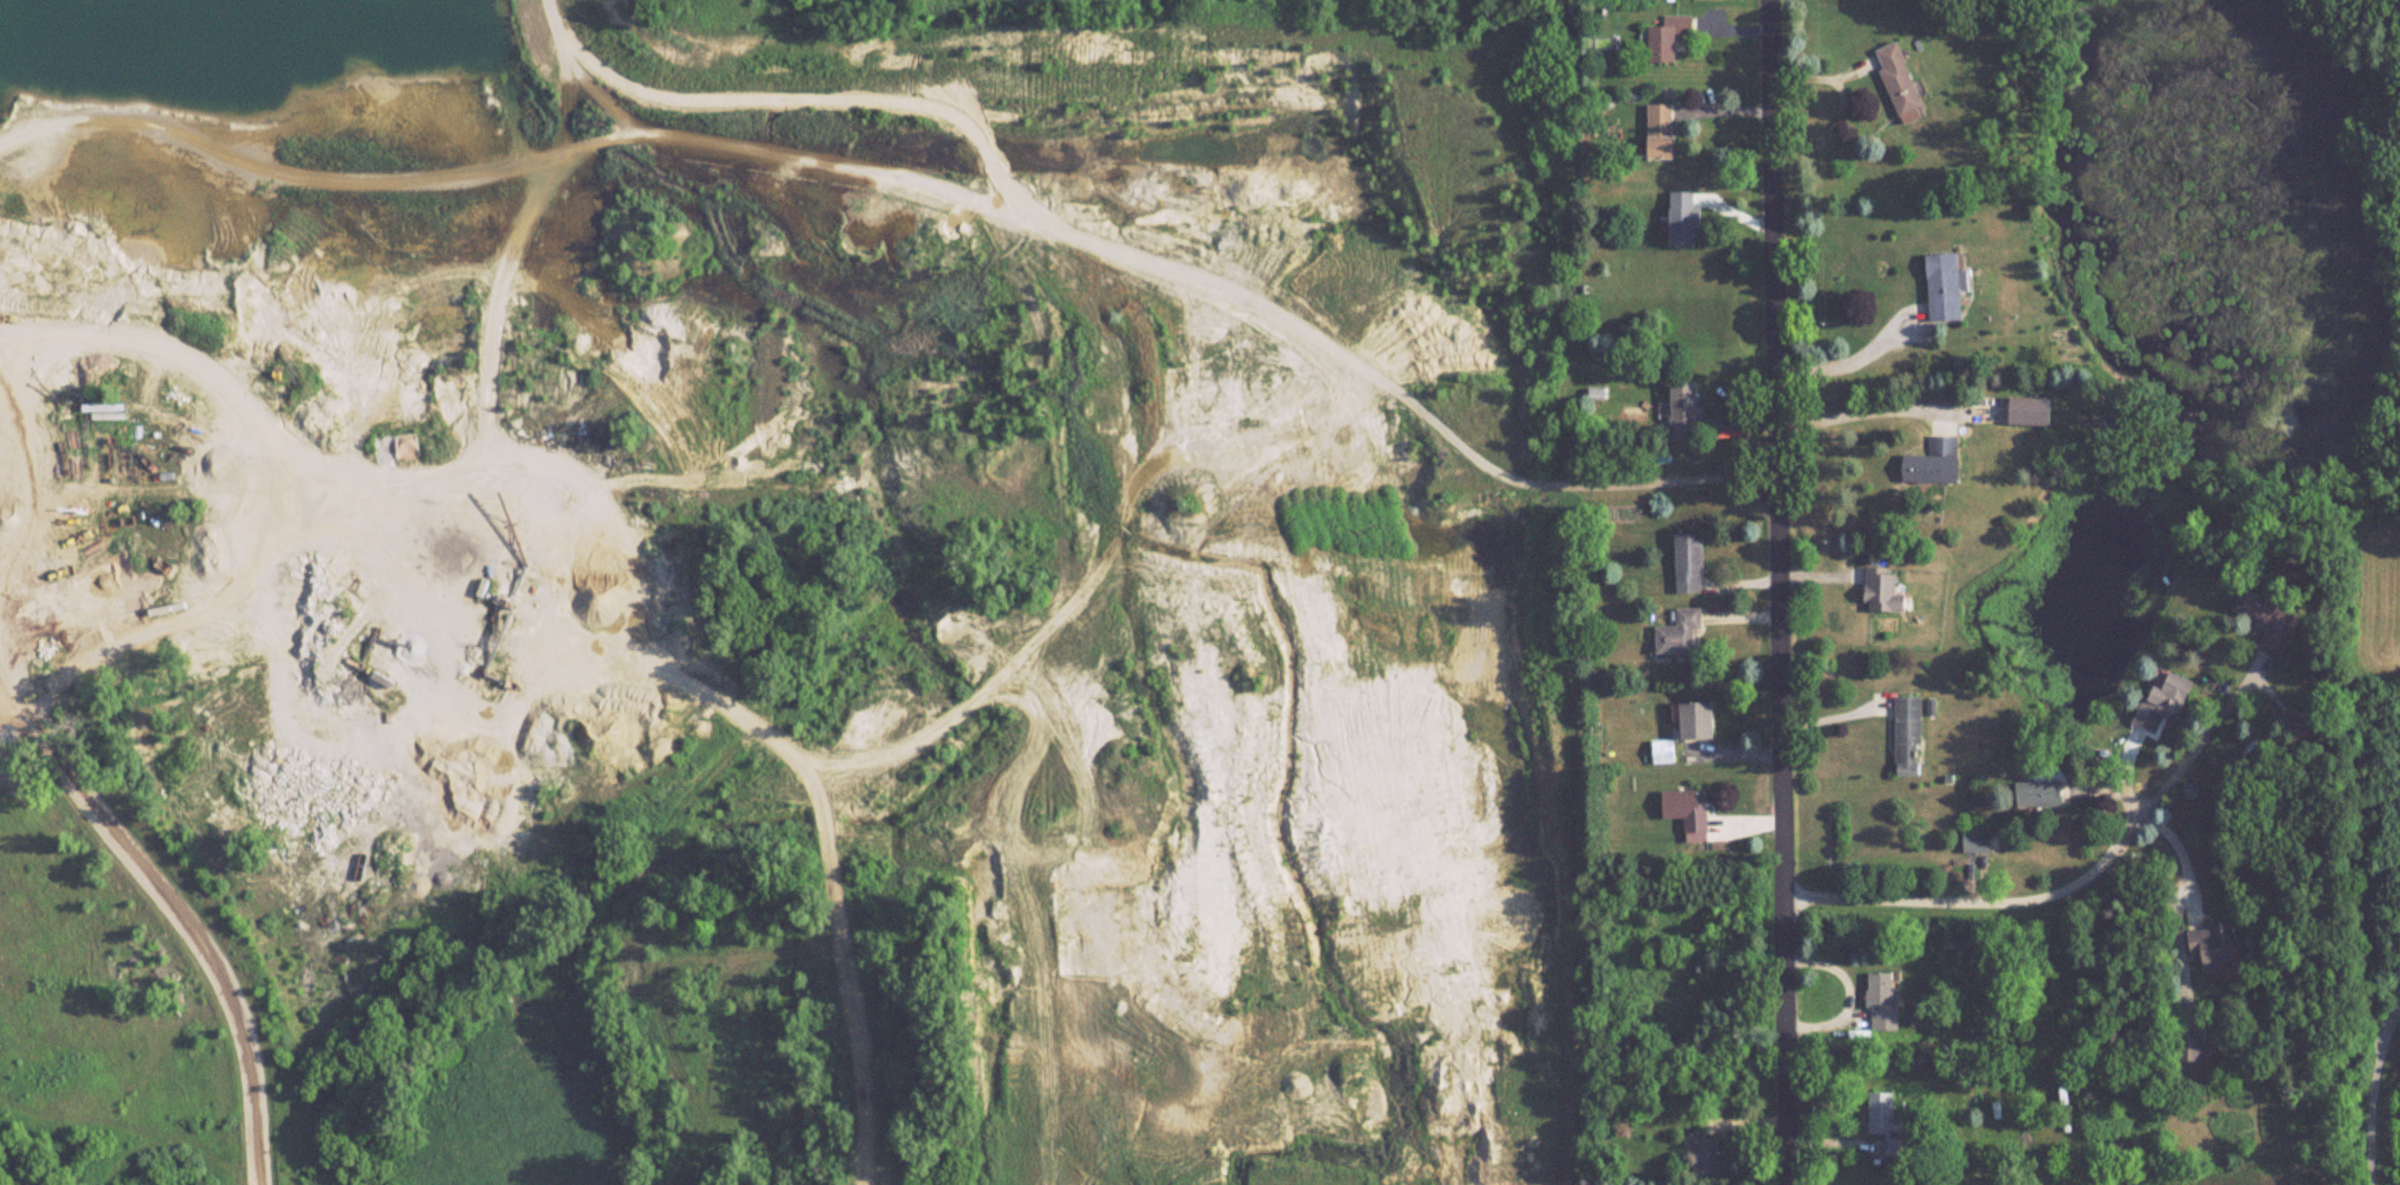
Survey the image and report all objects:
building: (1671, 36)
building: (1901, 81)
building: (1667, 131)
building: (1685, 218)
road: (1149, 273)
building: (1944, 287)
road: (1852, 360)
building: (1685, 409)
road: (1859, 418)
building: (1936, 464)
building: (1692, 562)
building: (1886, 591)
road: (1781, 592)
quarry: (776, 595)
building: (2271, 620)
building: (1682, 632)
building: (2164, 700)
building: (1699, 720)
building: (1907, 735)
building: (1663, 750)
building: (2039, 794)
building: (1687, 808)
building: (1976, 841)
road: (2097, 871)
road: (167, 892)
building: (2213, 945)
building: (1881, 1001)
building: (2190, 1047)
road: (2371, 1089)
building: (1886, 1121)
building: (1708, 1156)

